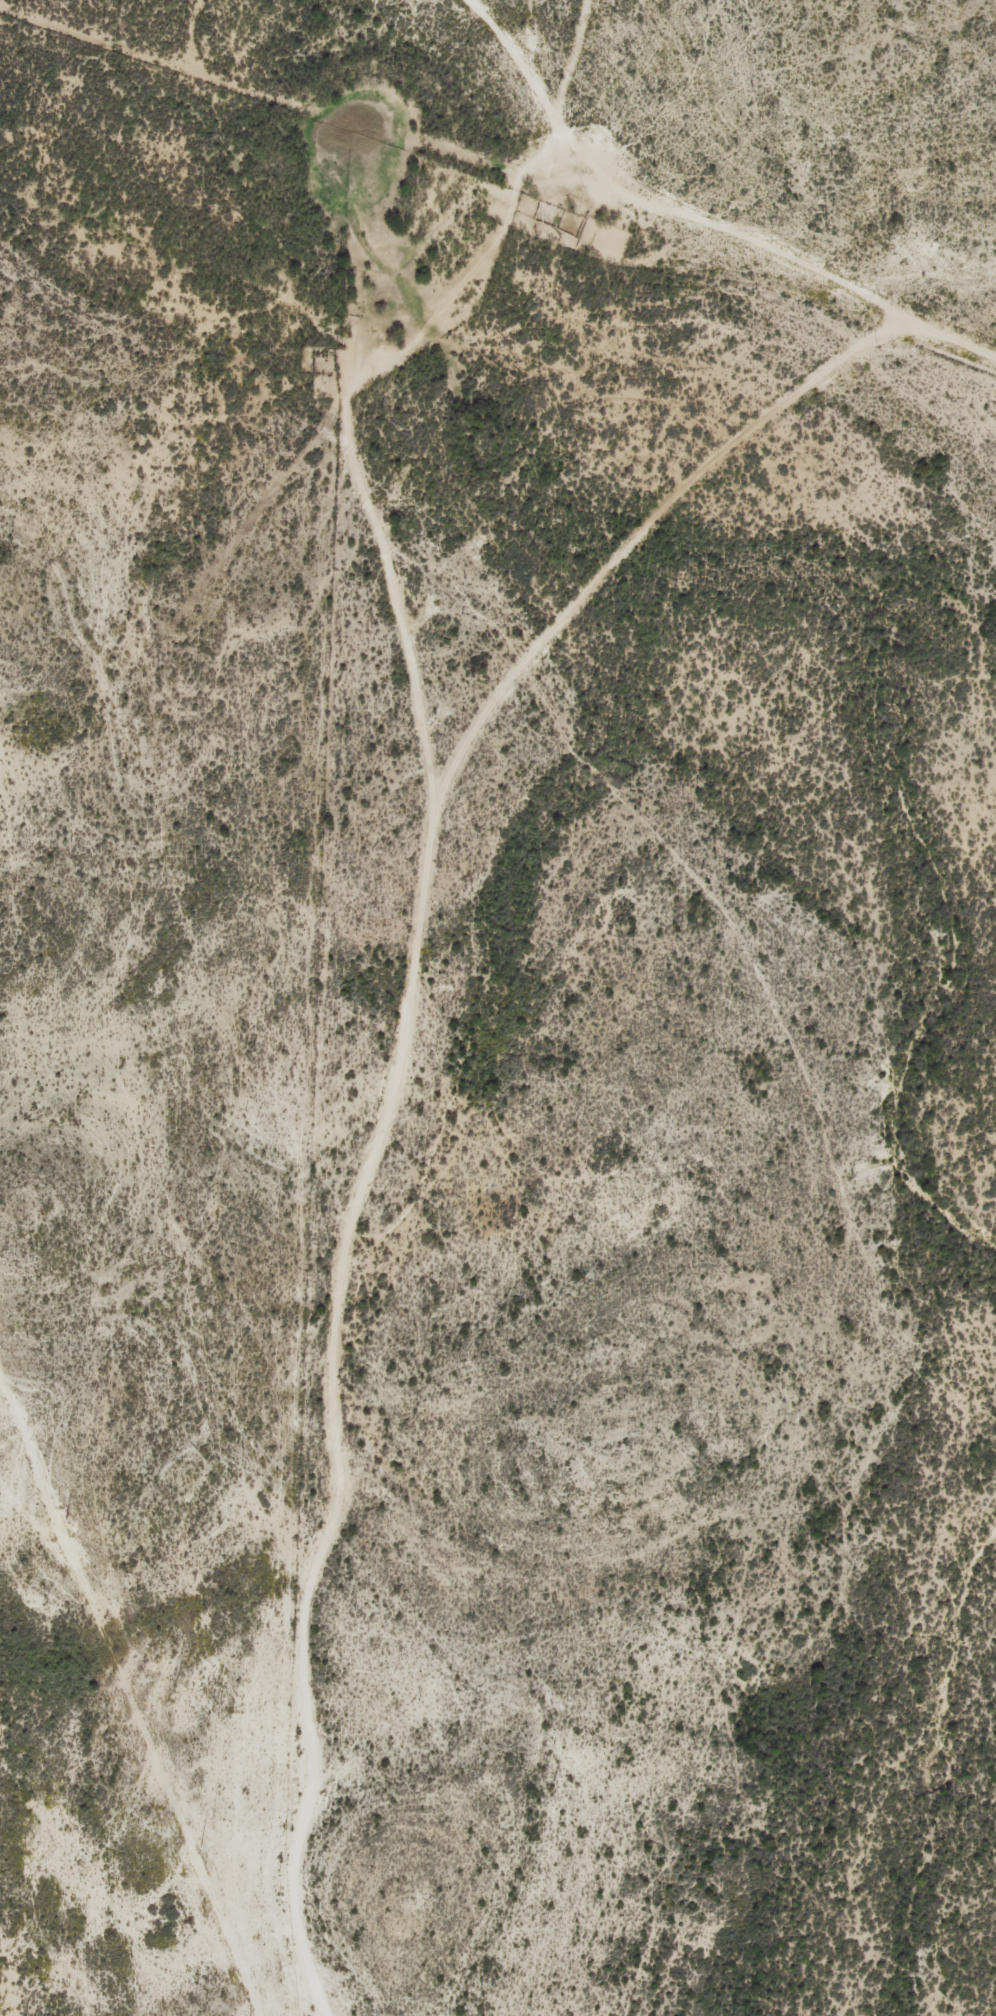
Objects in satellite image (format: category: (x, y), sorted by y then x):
road: (704, 219)
road: (413, 1035)
power tower: (65, 1519)
power tower: (202, 1847)

